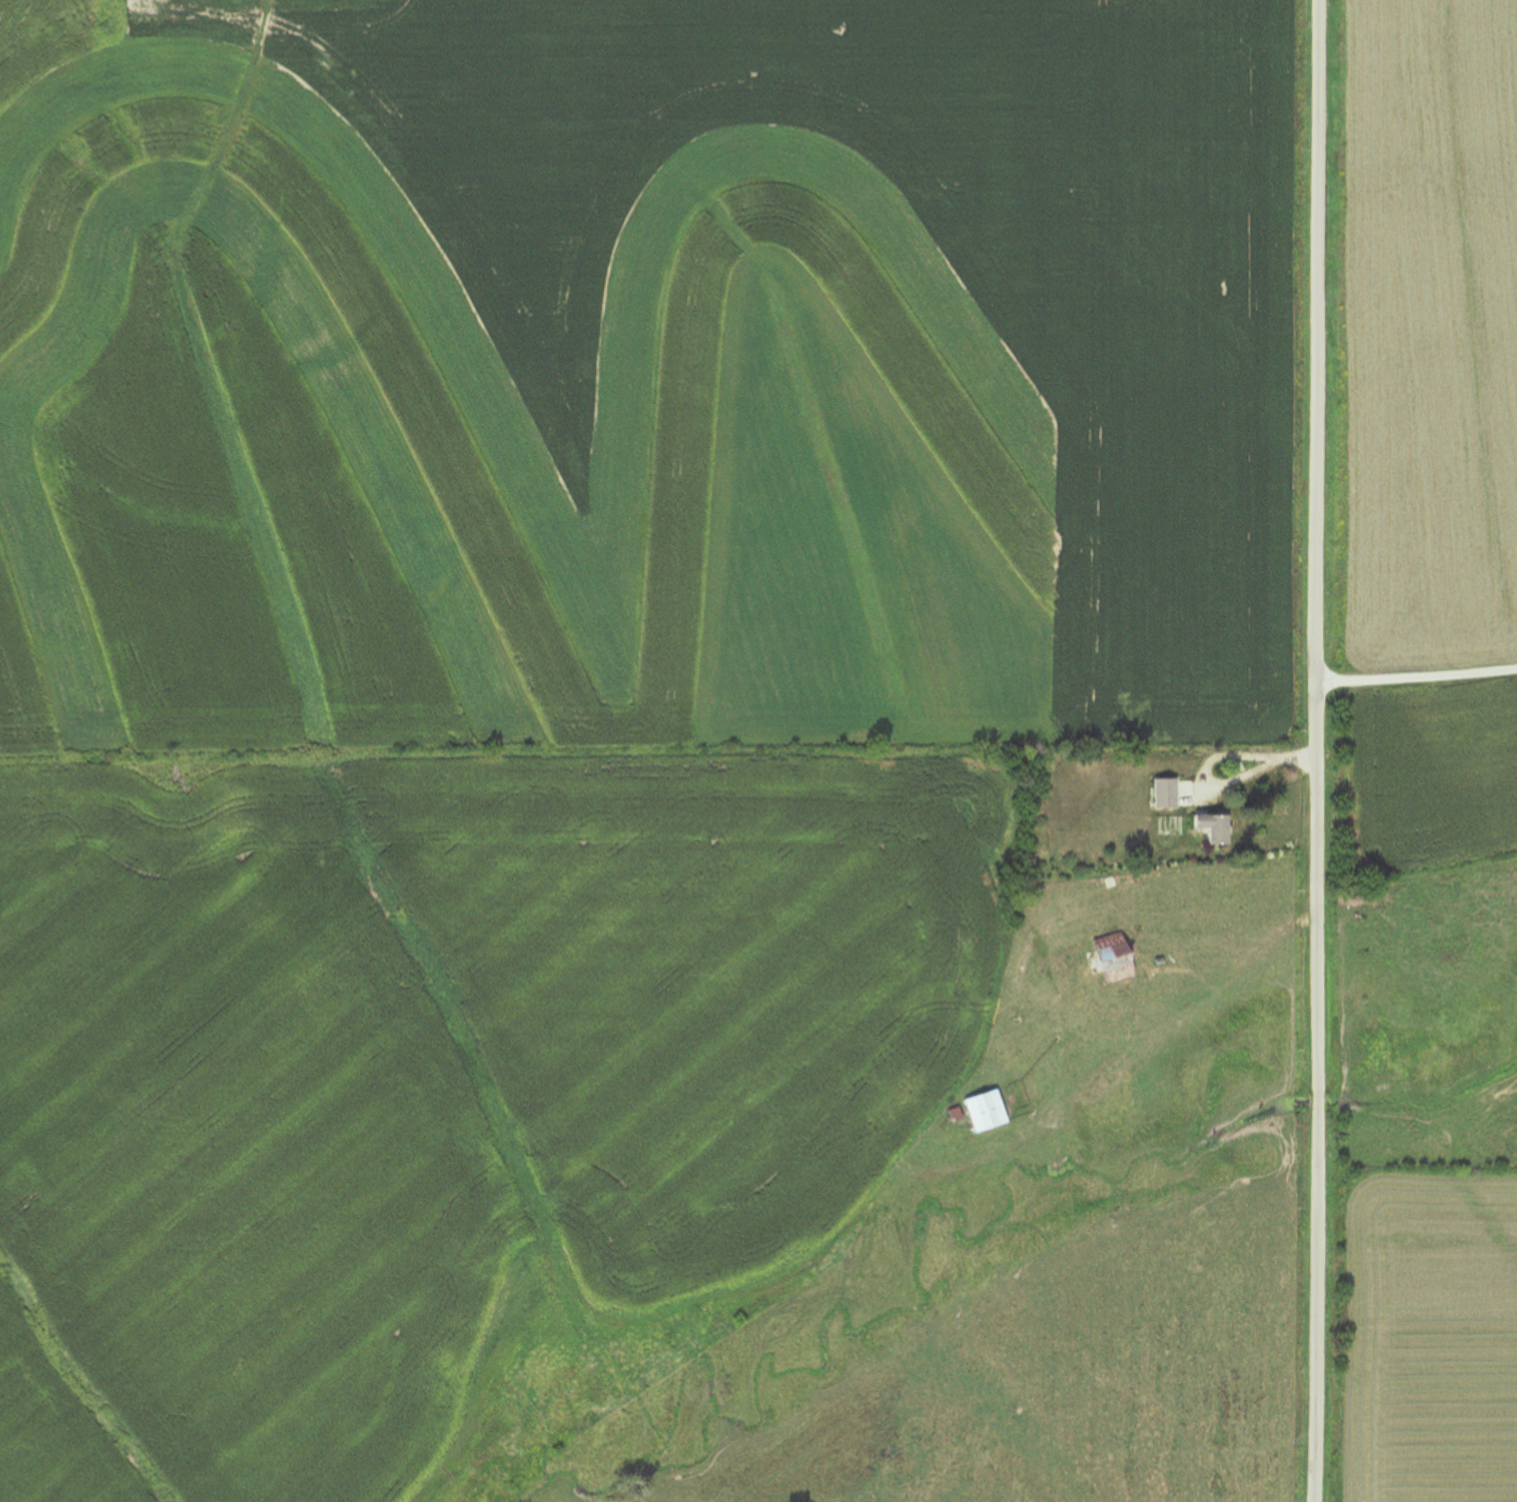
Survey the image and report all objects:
road: (1416, 674)
road: (1314, 750)
building: (1188, 794)
building: (1216, 828)
building: (1119, 958)
building: (990, 1112)

